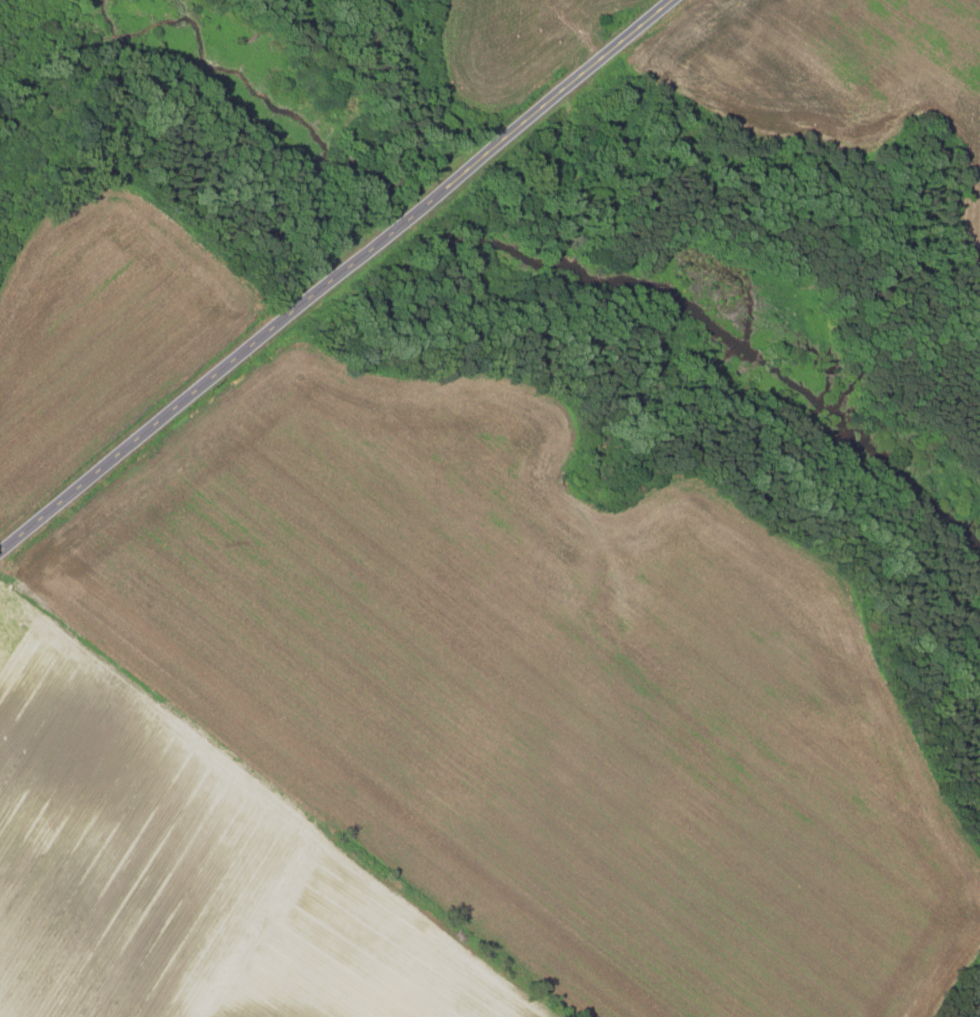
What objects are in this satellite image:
road: (334, 274)

